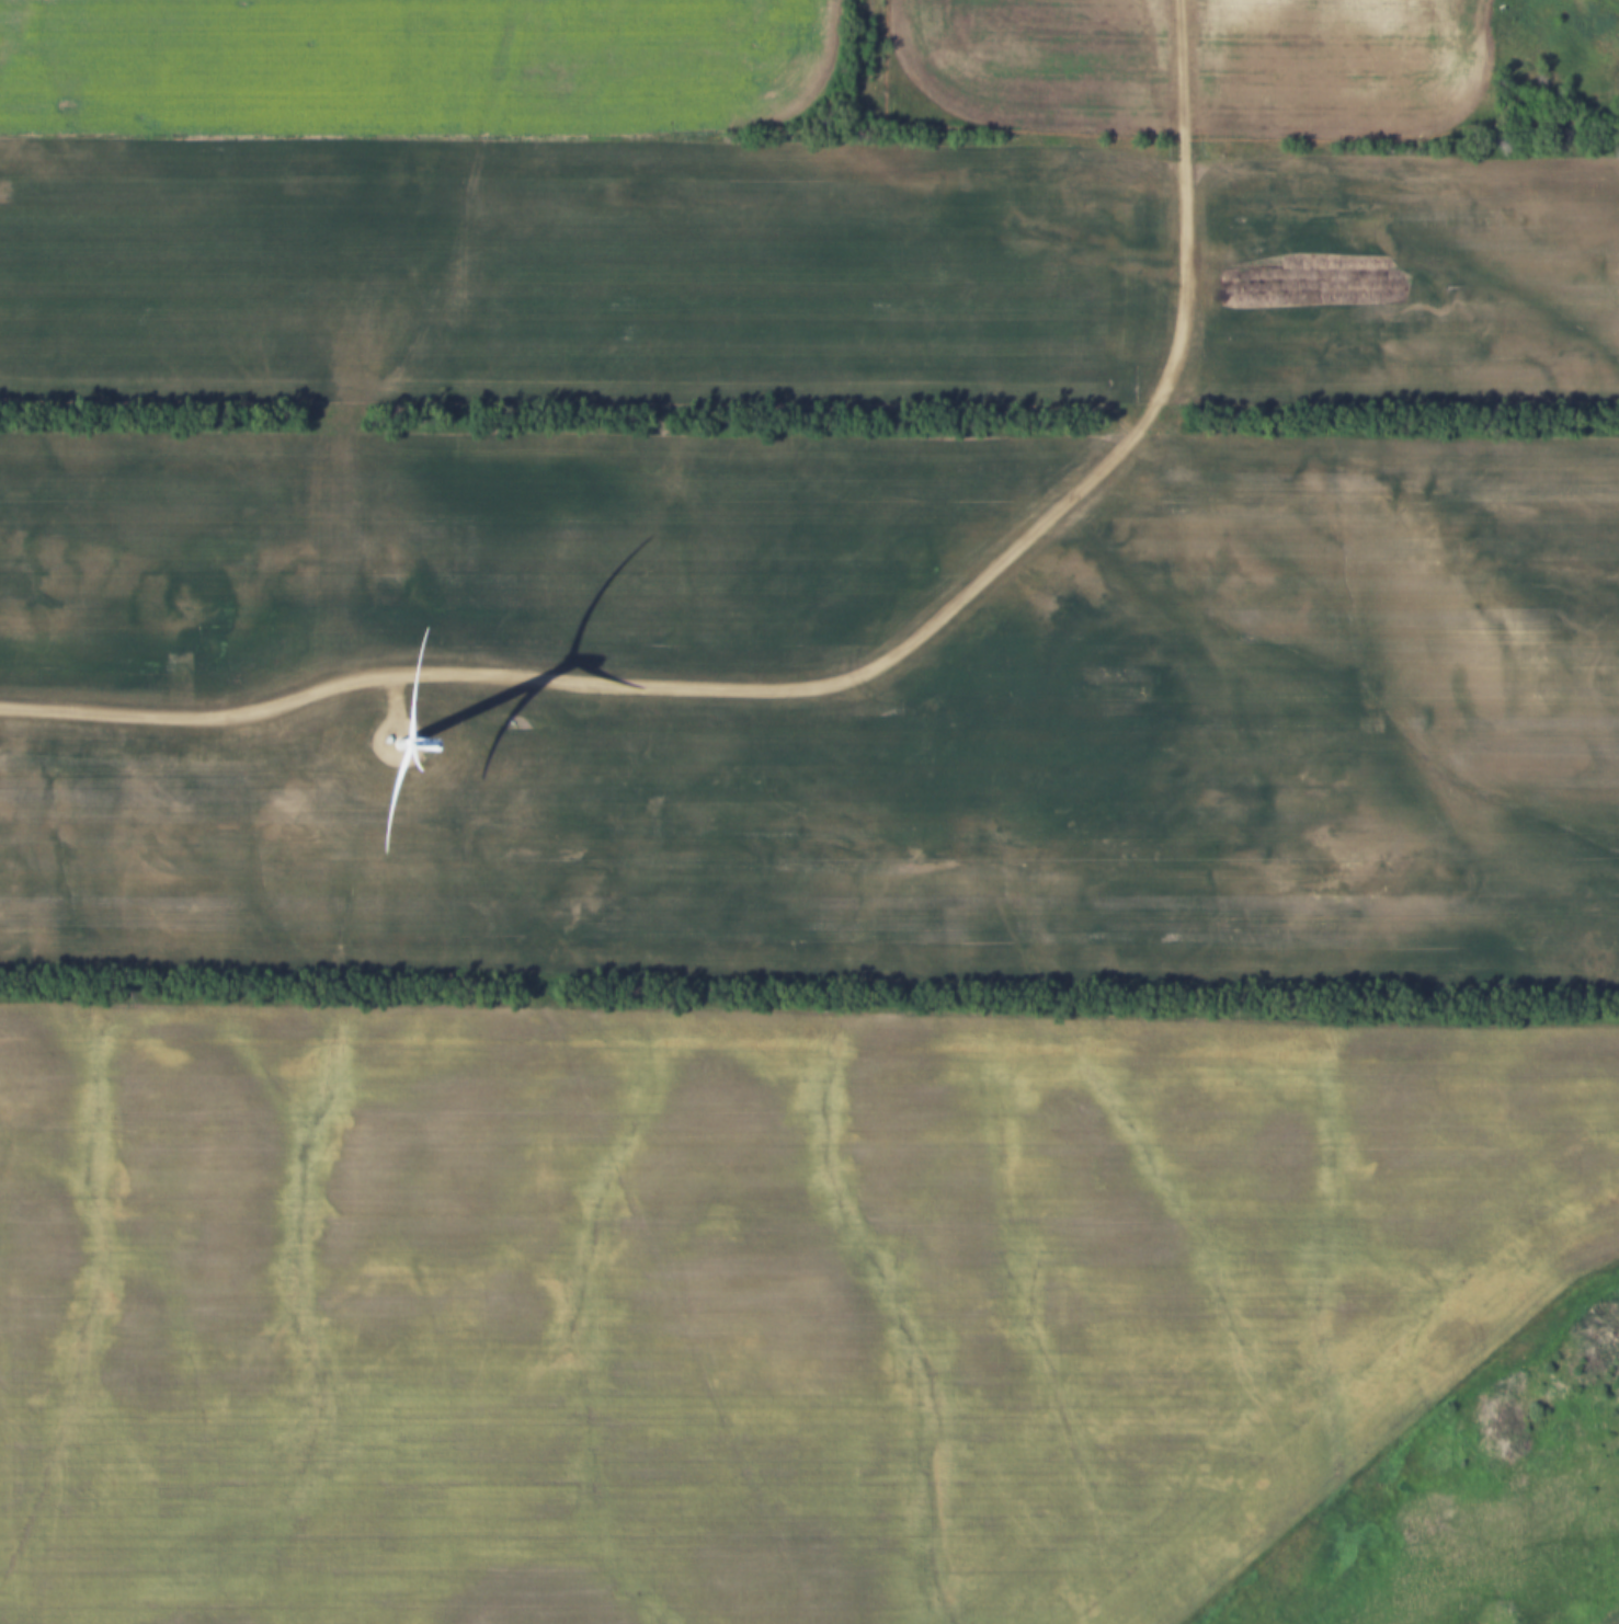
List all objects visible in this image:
road: (831, 683)
building: (352, 740)
wind turbine: (400, 746)
building: (147, 759)

